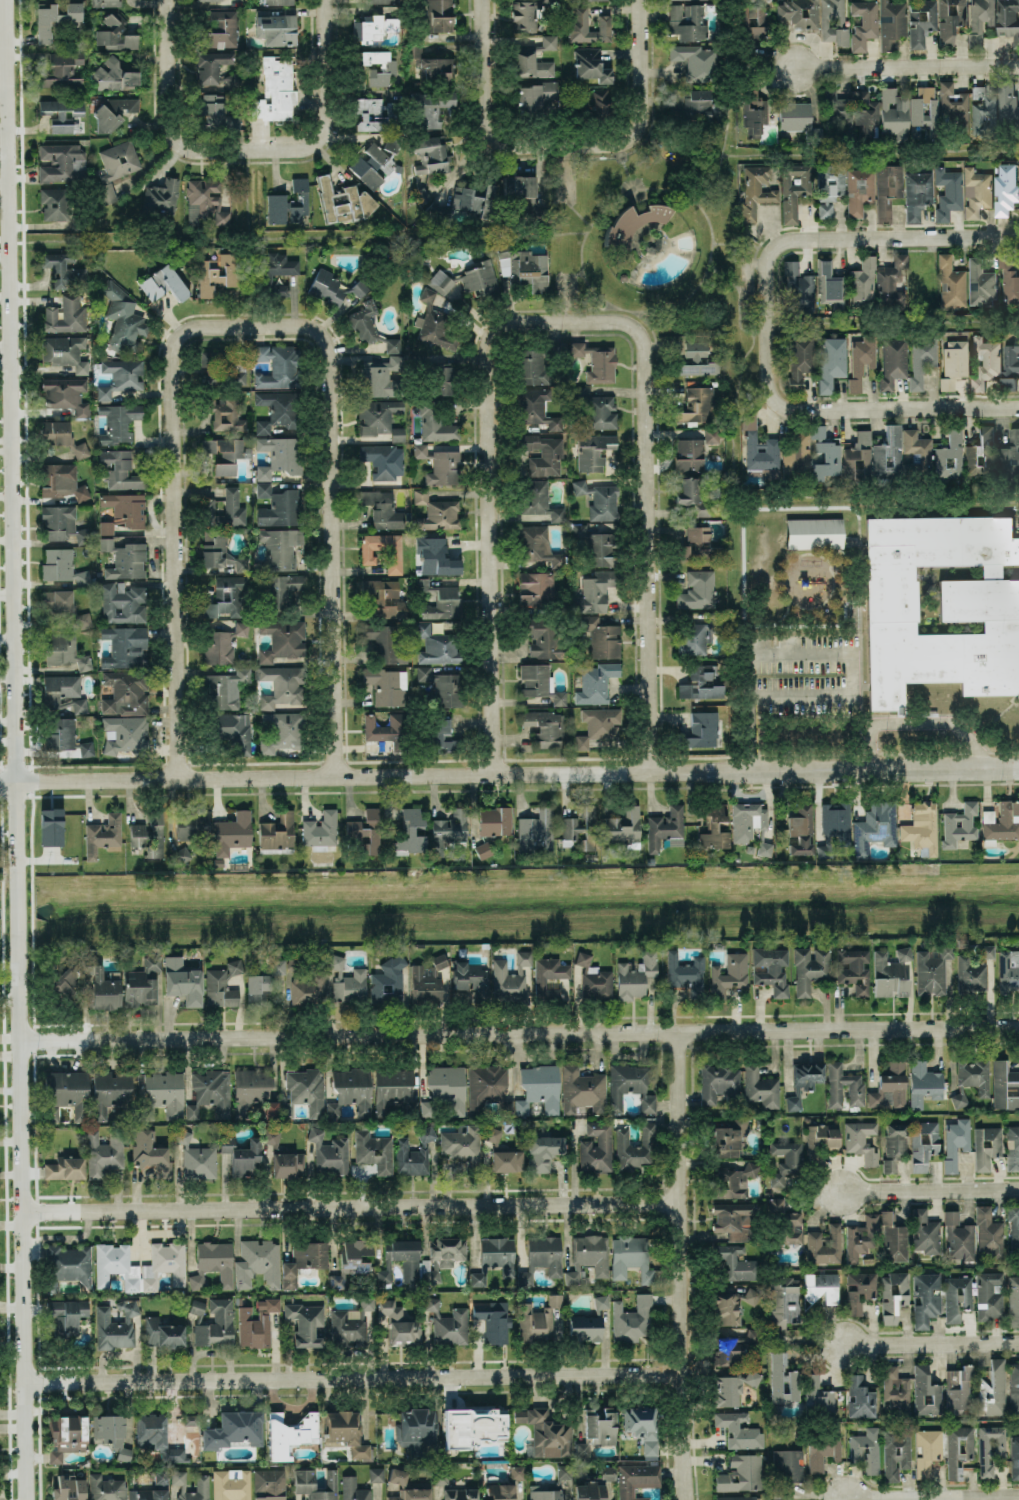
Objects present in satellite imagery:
building: (211, 0)
building: (588, 0)
building: (382, 1)
building: (277, 2)
building: (106, 3)
building: (799, 12)
building: (525, 14)
building: (434, 17)
building: (58, 19)
building: (950, 19)
building: (1008, 19)
building: (980, 20)
building: (687, 21)
building: (921, 21)
building: (834, 22)
building: (753, 23)
building: (864, 23)
building: (892, 23)
building: (374, 27)
building: (587, 27)
building: (275, 29)
building: (220, 30)
building: (115, 32)
building: (532, 59)
building: (694, 60)
building: (212, 65)
building: (590, 65)
road: (907, 66)
building: (430, 67)
building: (388, 69)
building: (63, 70)
building: (114, 76)
building: (234, 79)
building: (276, 90)
building: (534, 99)
building: (1007, 101)
road: (643, 104)
building: (697, 104)
road: (326, 107)
building: (431, 107)
road: (486, 107)
building: (940, 107)
road: (167, 109)
building: (597, 111)
building: (753, 111)
building: (839, 112)
building: (983, 112)
building: (113, 113)
building: (216, 113)
building: (374, 113)
building: (894, 113)
building: (62, 114)
building: (866, 114)
building: (794, 116)
building: (391, 146)
building: (431, 154)
building: (62, 163)
building: (116, 166)
building: (372, 166)
building: (830, 181)
building: (1005, 188)
building: (887, 189)
building: (755, 190)
building: (794, 190)
building: (859, 190)
building: (976, 192)
building: (522, 193)
building: (948, 193)
building: (917, 194)
building: (422, 196)
building: (160, 201)
building: (205, 201)
building: (343, 201)
building: (59, 202)
building: (289, 203)
building: (468, 204)
building: (825, 210)
building: (80, 223)
building: (627, 227)
road: (850, 237)
park: (624, 253)
building: (524, 268)
building: (64, 270)
building: (277, 271)
building: (217, 273)
building: (480, 277)
building: (441, 282)
building: (862, 282)
building: (893, 282)
building: (951, 283)
building: (981, 283)
building: (164, 284)
building: (829, 284)
building: (326, 287)
building: (1010, 287)
building: (359, 288)
building: (799, 289)
building: (66, 315)
building: (123, 319)
building: (364, 321)
building: (434, 323)
building: (393, 345)
building: (696, 349)
building: (65, 352)
building: (921, 357)
building: (801, 358)
building: (861, 360)
building: (596, 361)
building: (985, 361)
building: (831, 362)
building: (893, 362)
building: (954, 363)
building: (1010, 363)
building: (277, 366)
building: (531, 367)
building: (698, 368)
building: (121, 376)
building: (379, 376)
building: (442, 379)
building: (66, 394)
building: (696, 404)
road: (860, 408)
building: (537, 409)
building: (276, 410)
building: (224, 415)
building: (380, 418)
building: (119, 422)
building: (435, 423)
building: (61, 436)
building: (760, 449)
building: (593, 451)
building: (225, 454)
building: (689, 454)
building: (796, 454)
building: (825, 454)
building: (901, 454)
building: (993, 454)
building: (543, 455)
building: (278, 456)
building: (859, 456)
building: (949, 458)
building: (384, 460)
building: (439, 465)
building: (120, 469)
building: (61, 481)
building: (688, 491)
building: (599, 500)
building: (538, 501)
building: (278, 506)
building: (383, 509)
building: (225, 510)
building: (123, 511)
building: (437, 512)
road: (651, 512)
road: (335, 515)
road: (489, 518)
building: (58, 522)
road: (177, 522)
building: (814, 533)
building: (83, 536)
building: (537, 545)
building: (596, 545)
building: (699, 546)
building: (280, 547)
building: (219, 551)
building: (393, 552)
building: (436, 556)
building: (124, 558)
building: (61, 566)
building: (535, 588)
building: (281, 589)
building: (697, 590)
building: (594, 592)
building: (225, 597)
building: (385, 598)
building: (58, 600)
building: (441, 601)
building: (123, 604)
building: (941, 605)
building: (84, 620)
building: (601, 636)
building: (698, 636)
building: (542, 637)
building: (282, 639)
building: (383, 642)
building: (222, 644)
building: (437, 645)
building: (125, 647)
building: (65, 651)
building: (536, 680)
building: (596, 683)
building: (701, 683)
building: (281, 685)
building: (387, 685)
building: (443, 686)
building: (226, 689)
building: (60, 691)
building: (126, 692)
road: (853, 693)
building: (559, 698)
building: (80, 705)
road: (918, 724)
building: (598, 725)
building: (544, 728)
building: (233, 730)
building: (701, 730)
building: (280, 731)
building: (59, 733)
road: (751, 733)
building: (126, 734)
building: (442, 734)
building: (86, 748)
road: (13, 750)
road: (509, 776)
building: (748, 820)
building: (495, 821)
building: (1002, 821)
building: (836, 824)
building: (959, 824)
building: (192, 825)
building: (51, 826)
building: (624, 827)
building: (713, 827)
building: (321, 828)
building: (665, 828)
building: (874, 828)
building: (580, 829)
building: (801, 829)
building: (411, 830)
building: (278, 831)
building: (366, 831)
building: (537, 831)
building: (449, 832)
building: (232, 833)
building: (149, 834)
building: (103, 835)
building: (764, 848)
building: (483, 850)
building: (183, 854)
building: (986, 952)
building: (277, 966)
building: (771, 968)
building: (809, 969)
building: (854, 969)
building: (1008, 970)
building: (685, 972)
building: (931, 972)
building: (891, 973)
building: (511, 974)
building: (728, 974)
building: (970, 975)
building: (549, 976)
building: (635, 976)
building: (594, 978)
building: (472, 979)
building: (183, 980)
building: (348, 980)
building: (388, 981)
building: (427, 981)
building: (65, 983)
building: (142, 983)
building: (222, 985)
building: (308, 985)
building: (104, 986)
building: (259, 989)
road: (519, 1034)
building: (974, 1075)
building: (717, 1081)
building: (803, 1082)
building: (923, 1084)
building: (486, 1085)
building: (630, 1085)
building: (1005, 1085)
building: (889, 1086)
building: (760, 1087)
building: (448, 1088)
building: (251, 1089)
building: (307, 1089)
building: (391, 1089)
building: (539, 1089)
building: (351, 1090)
building: (582, 1090)
building: (213, 1091)
building: (109, 1092)
building: (67, 1093)
building: (166, 1093)
building: (856, 1094)
building: (959, 1100)
building: (427, 1108)
building: (286, 1109)
building: (271, 1110)
building: (192, 1111)
building: (426, 1134)
building: (493, 1135)
building: (271, 1136)
building: (822, 1136)
building: (729, 1137)
building: (861, 1140)
building: (956, 1142)
building: (462, 1143)
building: (923, 1143)
building: (894, 1145)
building: (987, 1146)
building: (597, 1147)
building: (636, 1147)
building: (1012, 1147)
building: (374, 1151)
building: (543, 1152)
building: (104, 1153)
building: (150, 1153)
building: (329, 1153)
building: (241, 1155)
building: (196, 1158)
building: (410, 1158)
building: (507, 1161)
building: (786, 1161)
building: (288, 1164)
building: (65, 1168)
building: (733, 1180)
road: (932, 1191)
building: (776, 1205)
road: (350, 1207)
building: (733, 1220)
building: (792, 1227)
building: (1014, 1228)
building: (924, 1231)
building: (989, 1232)
building: (862, 1237)
building: (959, 1237)
building: (894, 1238)
building: (824, 1245)
building: (354, 1251)
building: (445, 1253)
building: (588, 1256)
building: (631, 1257)
building: (495, 1258)
building: (542, 1258)
building: (303, 1260)
building: (736, 1262)
building: (258, 1263)
building: (164, 1264)
building: (213, 1264)
building: (410, 1264)
building: (67, 1265)
building: (115, 1266)
road: (681, 1266)
road: (694, 1266)
building: (431, 1277)
building: (821, 1289)
building: (859, 1289)
building: (893, 1295)
building: (989, 1296)
building: (957, 1297)
building: (926, 1298)
building: (784, 1301)
building: (1013, 1301)
building: (601, 1302)
building: (432, 1304)
building: (732, 1305)
building: (198, 1309)
building: (66, 1318)
building: (632, 1319)
building: (493, 1320)
building: (538, 1320)
building: (305, 1322)
building: (256, 1323)
building: (400, 1323)
building: (116, 1325)
building: (216, 1325)
building: (349, 1326)
building: (451, 1327)
building: (585, 1328)
building: (162, 1333)
road: (931, 1342)
building: (731, 1349)
road: (354, 1378)
building: (783, 1379)
building: (1014, 1387)
building: (732, 1388)
building: (958, 1388)
building: (993, 1388)
building: (896, 1390)
building: (926, 1392)
building: (818, 1394)
building: (190, 1419)
building: (473, 1427)
building: (642, 1427)
building: (234, 1429)
building: (416, 1430)
building: (739, 1430)
building: (150, 1431)
building: (567, 1431)
building: (346, 1432)
building: (111, 1433)
building: (289, 1433)
building: (65, 1436)
building: (823, 1448)
building: (990, 1448)
building: (866, 1449)
building: (959, 1449)
building: (928, 1451)
building: (896, 1452)
building: (175, 1454)
building: (1014, 1457)
building: (786, 1470)
building: (564, 1471)
building: (516, 1472)
building: (608, 1472)
building: (741, 1473)
building: (376, 1474)
building: (397, 1475)
building: (178, 1477)
building: (440, 1477)
building: (160, 1479)
building: (305, 1479)
building: (637, 1479)
building: (231, 1484)
building: (269, 1484)
building: (106, 1488)
building: (197, 1489)
building: (353, 1489)
building: (501, 1491)
building: (589, 1491)
building: (412, 1492)
building: (546, 1492)
building: (148, 1494)
building: (460, 1494)
road: (934, 1497)
building: (735, 1498)

